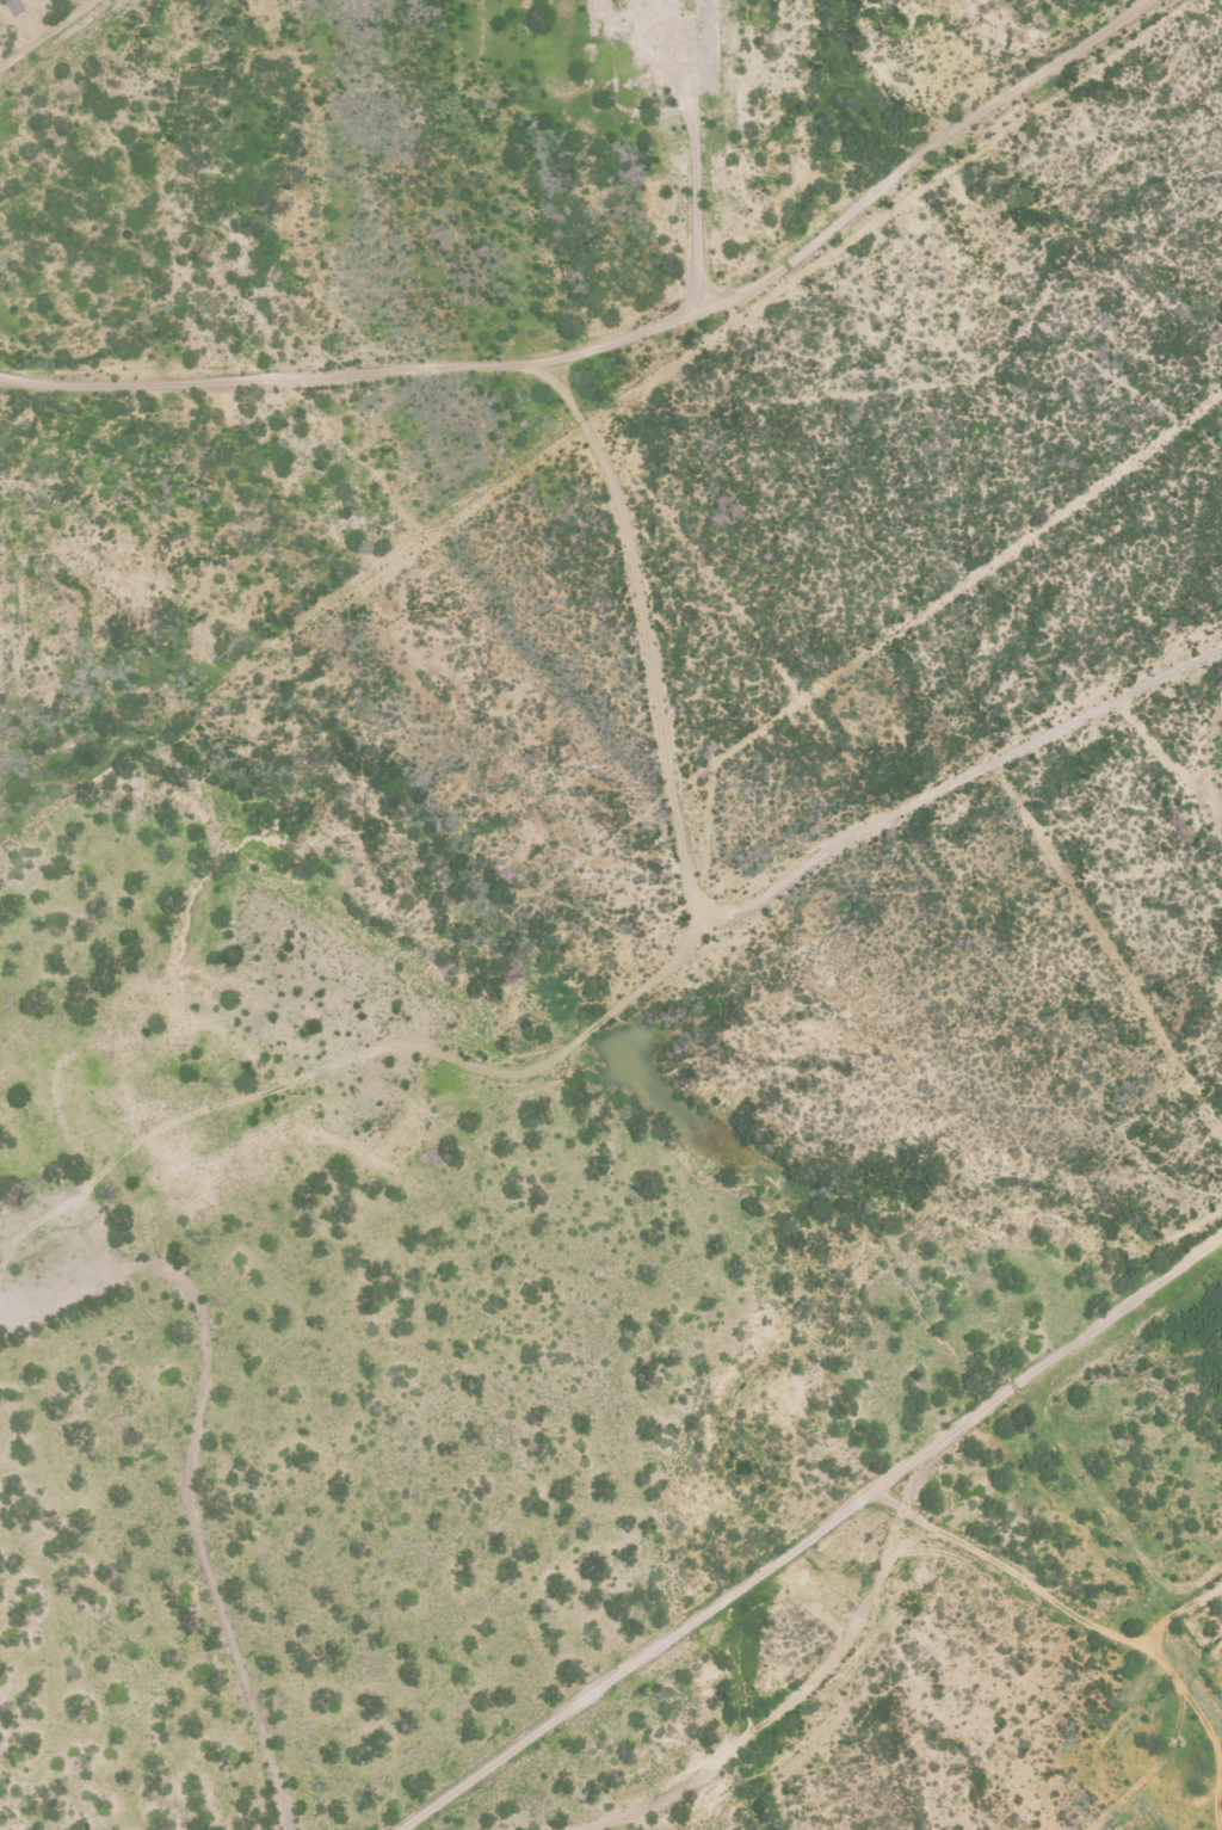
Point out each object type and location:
road: (618, 318)
road: (937, 1518)

